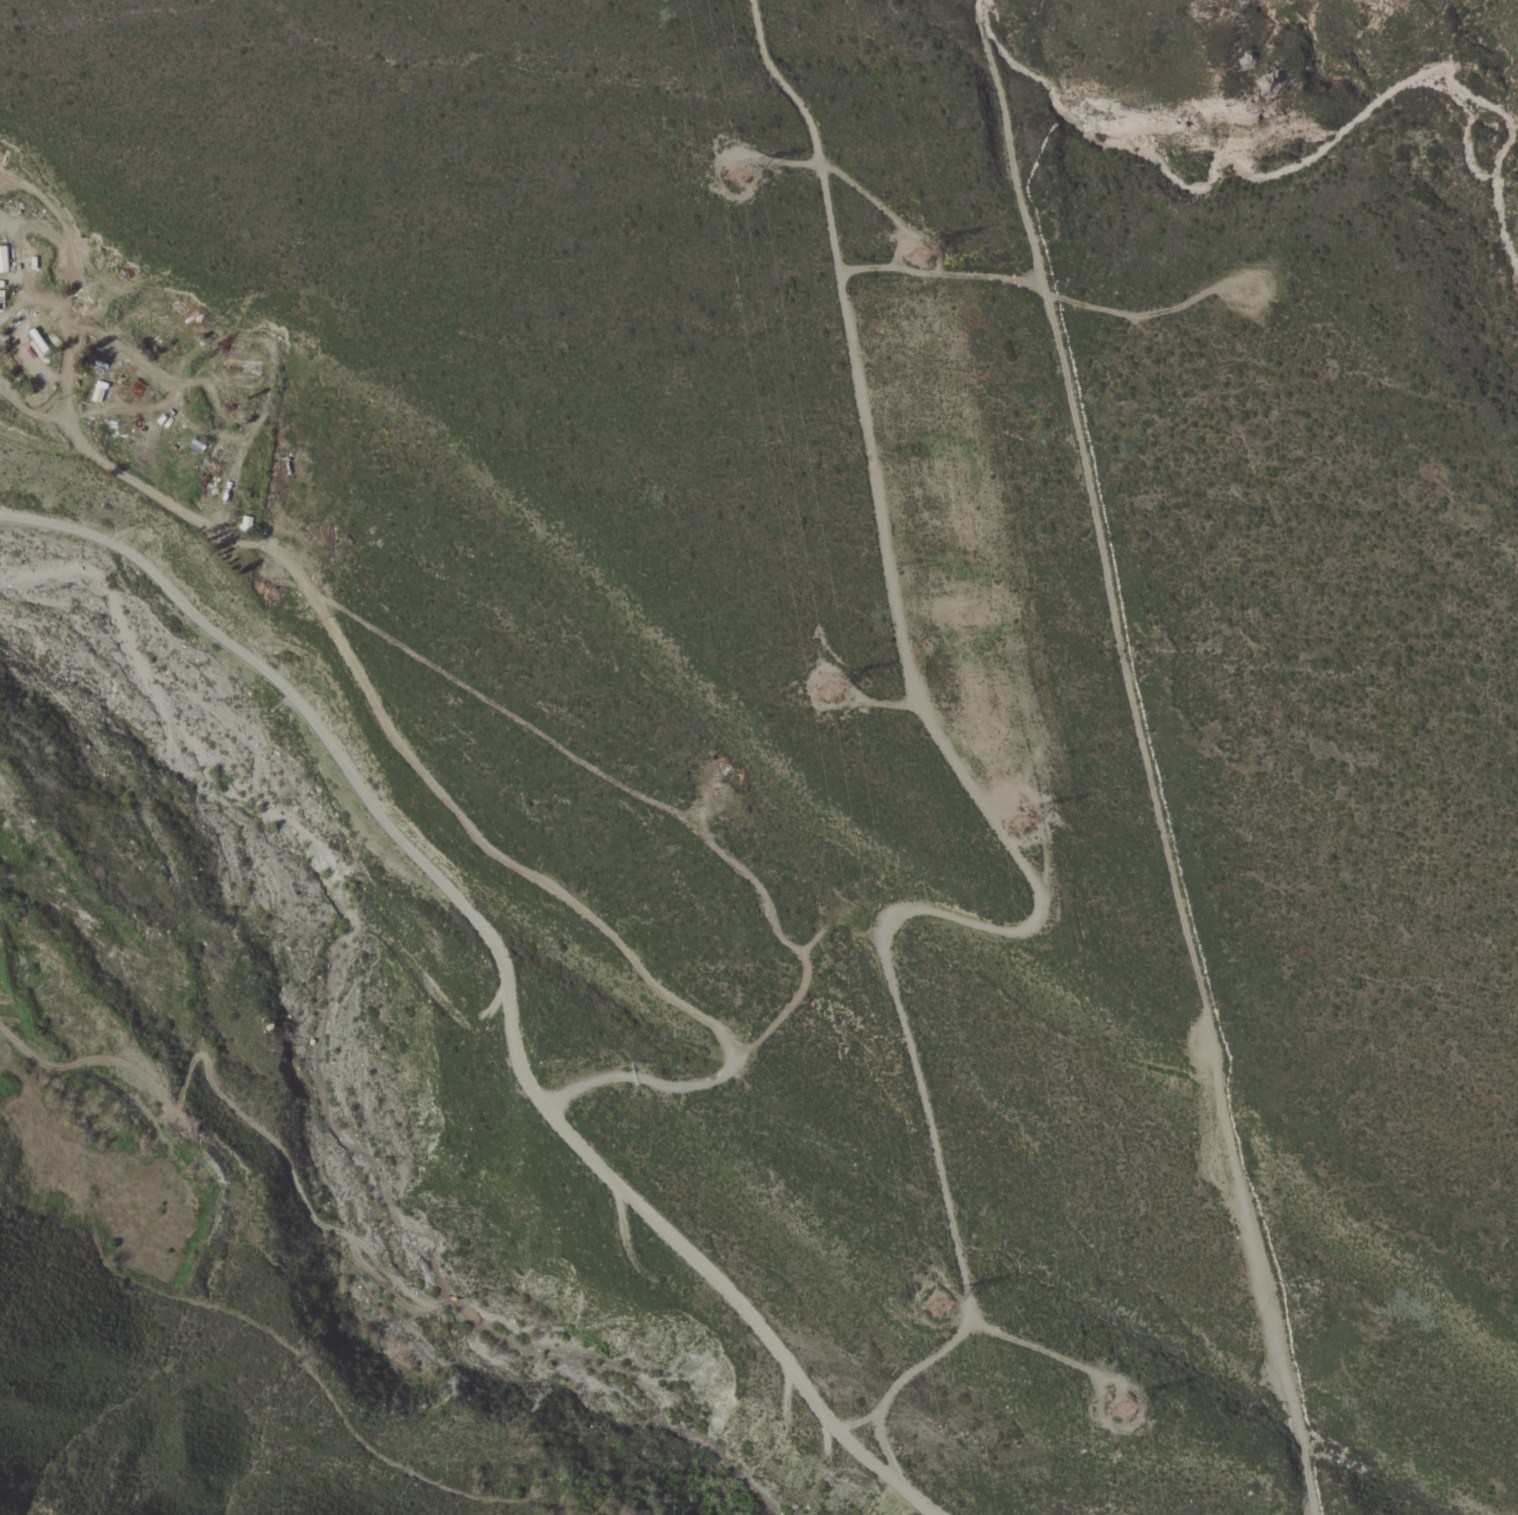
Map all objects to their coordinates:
power tower: (759, 176)
road: (855, 182)
road: (823, 187)
power tower: (929, 255)
road: (1044, 292)
power tower: (837, 688)
road: (880, 702)
road: (1145, 758)
road: (443, 793)
power tower: (1033, 816)
road: (939, 910)
road: (507, 974)
power tower: (945, 1302)
road: (1040, 1350)
power tower: (1134, 1402)

